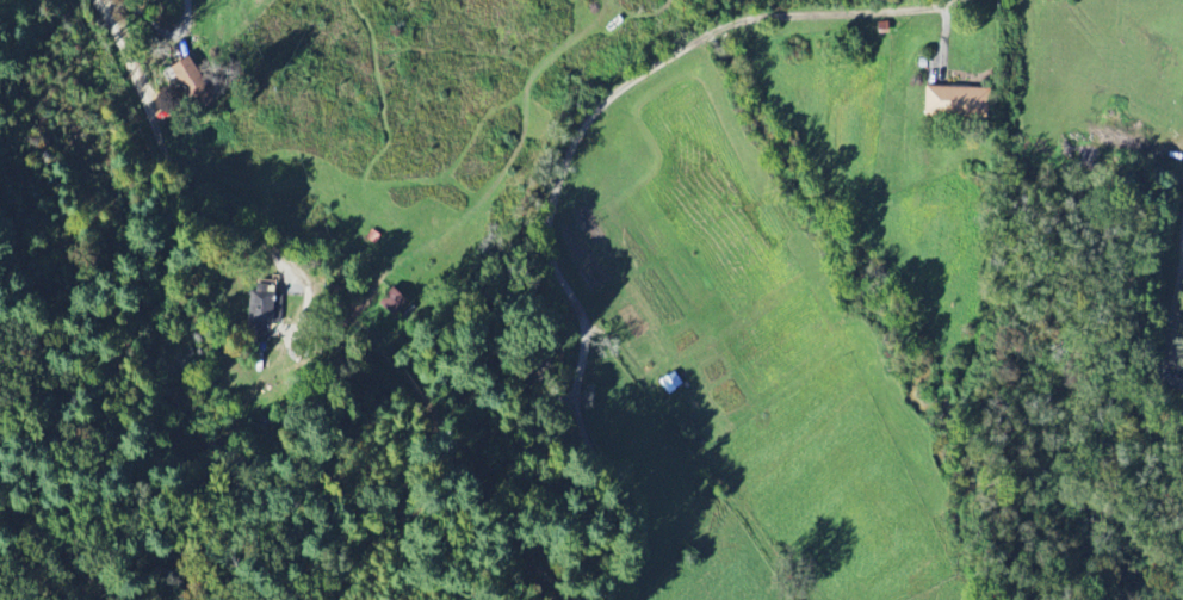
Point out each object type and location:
building: (194, 83)
building: (959, 101)
road: (157, 146)
road: (564, 160)
building: (395, 302)
road: (1177, 309)
building: (259, 315)
road: (693, 406)

